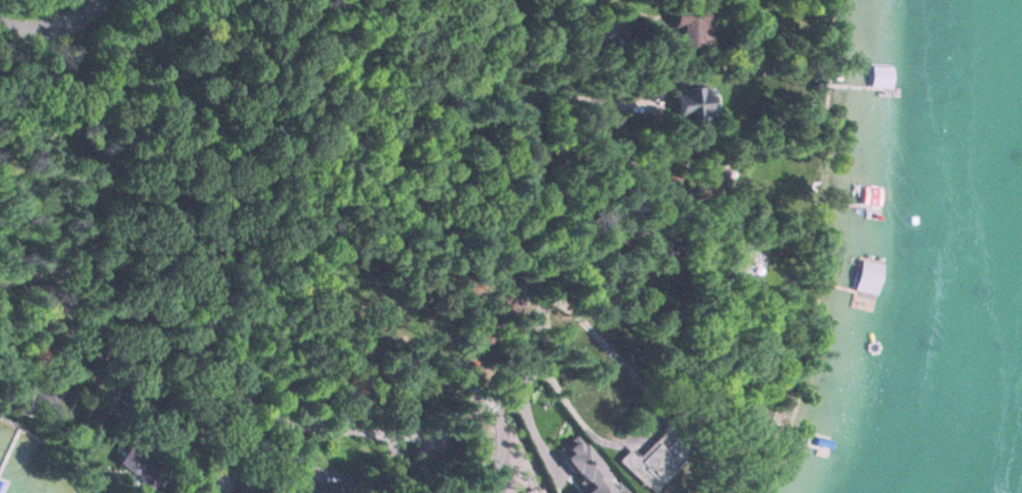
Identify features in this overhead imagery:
road: (52, 22)
building: (694, 26)
building: (881, 70)
building: (694, 104)
building: (867, 277)
road: (368, 427)
building: (528, 441)
building: (828, 444)
building: (654, 462)
building: (139, 467)

